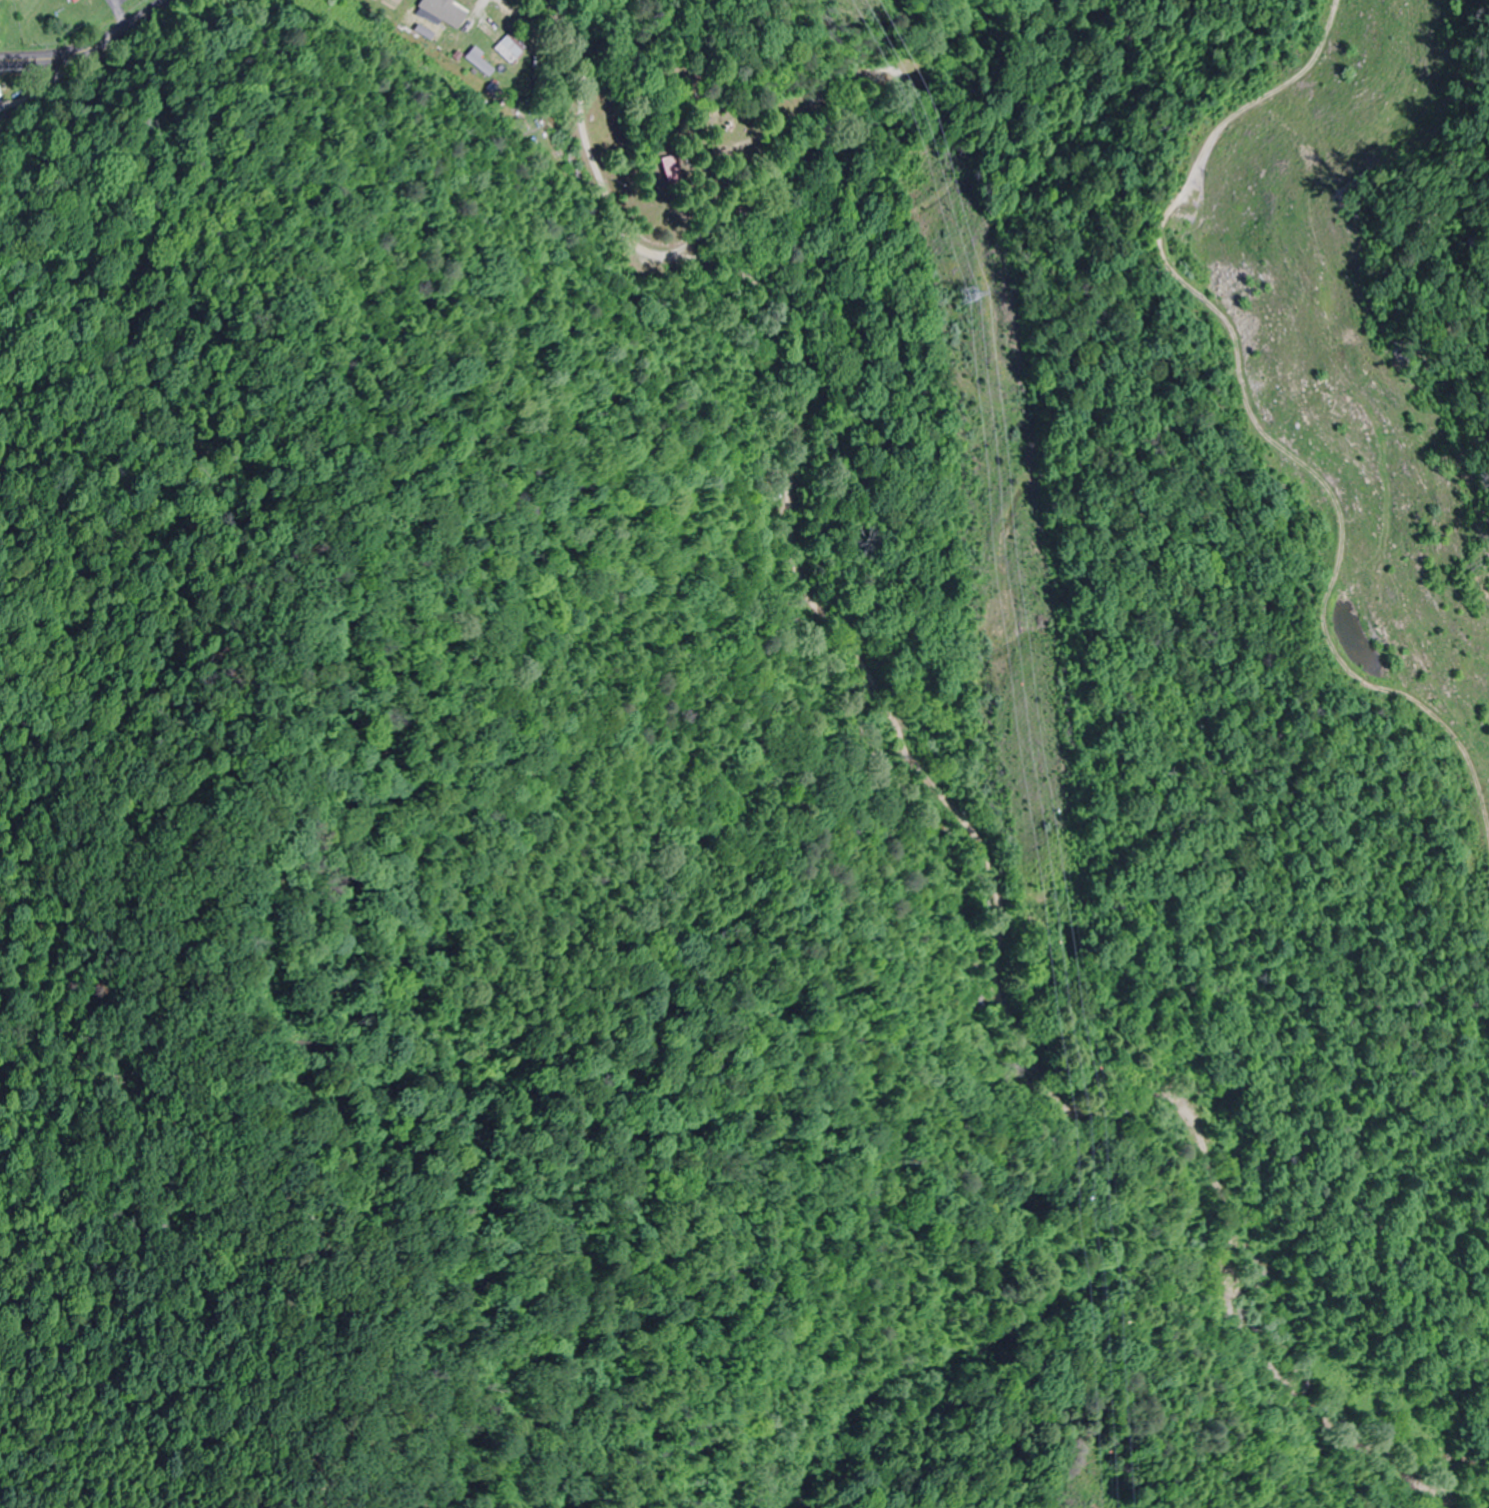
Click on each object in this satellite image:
building: (73, 1)
building: (425, 23)
road: (79, 37)
building: (510, 48)
road: (825, 134)
power tower: (958, 297)
road: (902, 676)

